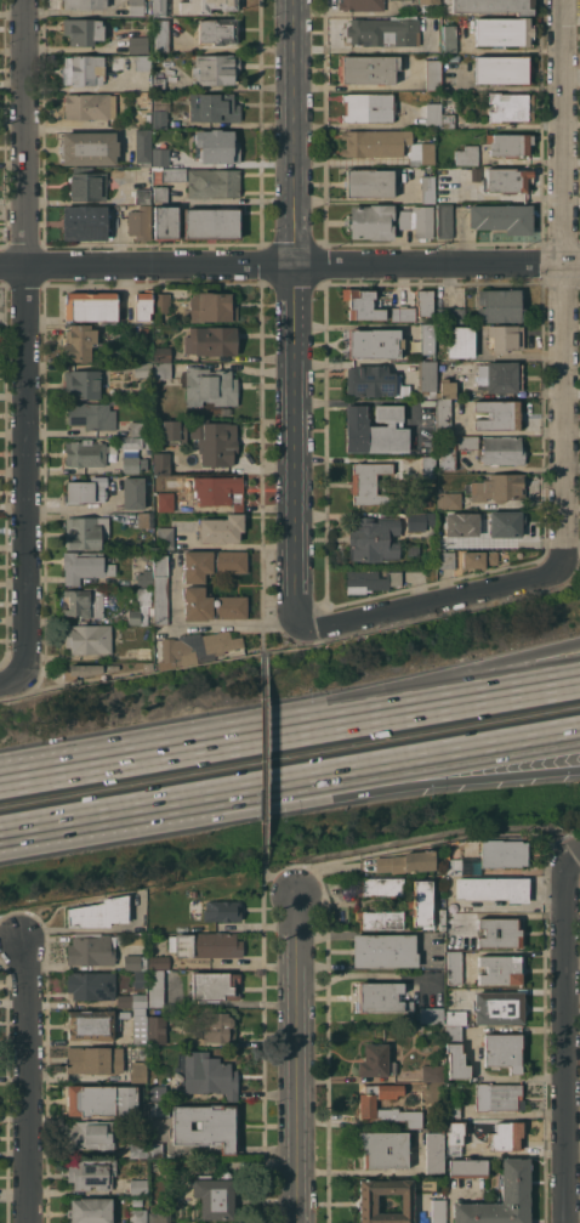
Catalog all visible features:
building: (428, 1)
building: (84, 4)
road: (573, 4)
building: (205, 5)
building: (360, 5)
building: (136, 6)
building: (494, 6)
building: (158, 7)
building: (83, 30)
building: (217, 30)
building: (504, 32)
building: (364, 33)
building: (161, 35)
building: (449, 38)
building: (138, 44)
building: (114, 62)
building: (142, 62)
building: (215, 68)
building: (369, 68)
building: (84, 69)
building: (502, 69)
building: (433, 74)
building: (159, 84)
building: (511, 106)
building: (91, 107)
building: (212, 107)
building: (368, 107)
building: (160, 111)
building: (146, 114)
building: (433, 114)
building: (448, 115)
building: (375, 142)
building: (510, 145)
building: (143, 147)
building: (216, 147)
building: (89, 148)
building: (421, 153)
building: (467, 155)
building: (160, 157)
building: (467, 172)
building: (174, 174)
building: (507, 180)
building: (212, 182)
building: (368, 182)
building: (86, 185)
building: (427, 185)
building: (159, 193)
building: (142, 196)
building: (501, 217)
building: (370, 221)
building: (417, 221)
building: (444, 221)
building: (84, 222)
building: (140, 222)
building: (165, 222)
building: (211, 222)
road: (290, 266)
road: (568, 284)
building: (423, 301)
building: (142, 304)
building: (363, 304)
building: (159, 305)
building: (499, 305)
building: (90, 306)
building: (211, 307)
road: (296, 312)
building: (402, 313)
building: (450, 315)
building: (163, 330)
building: (143, 332)
road: (25, 335)
building: (505, 336)
building: (427, 338)
building: (211, 340)
building: (461, 341)
building: (79, 342)
building: (374, 342)
building: (160, 353)
road: (522, 356)
building: (142, 369)
building: (161, 369)
building: (499, 376)
building: (427, 379)
building: (370, 380)
building: (81, 384)
building: (210, 386)
building: (447, 389)
building: (92, 414)
building: (497, 414)
building: (443, 417)
building: (136, 428)
building: (375, 429)
building: (170, 431)
building: (130, 442)
building: (215, 442)
building: (467, 442)
building: (147, 443)
building: (501, 449)
building: (86, 453)
building: (447, 454)
building: (160, 459)
building: (135, 464)
building: (427, 468)
building: (368, 482)
building: (499, 487)
building: (216, 488)
building: (86, 489)
building: (133, 492)
building: (449, 500)
building: (165, 502)
building: (427, 503)
building: (146, 520)
building: (419, 520)
building: (505, 523)
building: (221, 528)
building: (85, 532)
building: (165, 538)
building: (374, 538)
building: (448, 538)
building: (478, 559)
building: (445, 560)
building: (212, 564)
building: (84, 565)
building: (144, 578)
building: (370, 579)
building: (160, 589)
building: (85, 602)
road: (432, 604)
building: (212, 605)
building: (140, 607)
road: (269, 623)
building: (87, 639)
building: (197, 646)
building: (147, 666)
building: (87, 669)
road: (12, 680)
road: (394, 695)
road: (394, 713)
road: (262, 757)
road: (104, 763)
road: (339, 778)
road: (339, 794)
road: (50, 831)
building: (502, 853)
building: (453, 857)
road: (579, 859)
building: (405, 861)
road: (277, 881)
building: (381, 885)
building: (493, 888)
building: (420, 902)
building: (222, 910)
building: (98, 912)
building: (381, 918)
building: (442, 919)
road: (10, 925)
building: (499, 932)
building: (205, 945)
building: (89, 947)
building: (383, 950)
building: (130, 956)
building: (158, 962)
building: (454, 967)
building: (136, 969)
building: (500, 969)
road: (364, 974)
building: (91, 985)
building: (212, 985)
building: (155, 989)
building: (381, 997)
building: (131, 1000)
building: (499, 1007)
building: (431, 1014)
building: (455, 1018)
building: (90, 1025)
building: (217, 1026)
building: (140, 1029)
building: (157, 1029)
road: (570, 1041)
building: (502, 1051)
building: (455, 1053)
road: (296, 1057)
building: (95, 1059)
building: (375, 1061)
road: (575, 1061)
building: (138, 1070)
building: (431, 1072)
building: (205, 1075)
road: (28, 1077)
building: (158, 1092)
building: (497, 1095)
building: (101, 1099)
building: (368, 1103)
building: (158, 1109)
building: (453, 1110)
building: (205, 1126)
building: (91, 1134)
building: (505, 1136)
building: (455, 1137)
building: (138, 1149)
building: (385, 1149)
building: (154, 1150)
building: (434, 1151)
building: (467, 1167)
building: (91, 1173)
building: (138, 1187)
building: (212, 1196)
building: (501, 1197)
building: (136, 1202)
building: (368, 1202)
building: (90, 1210)
building: (438, 1211)
building: (137, 1216)
building: (159, 1217)

